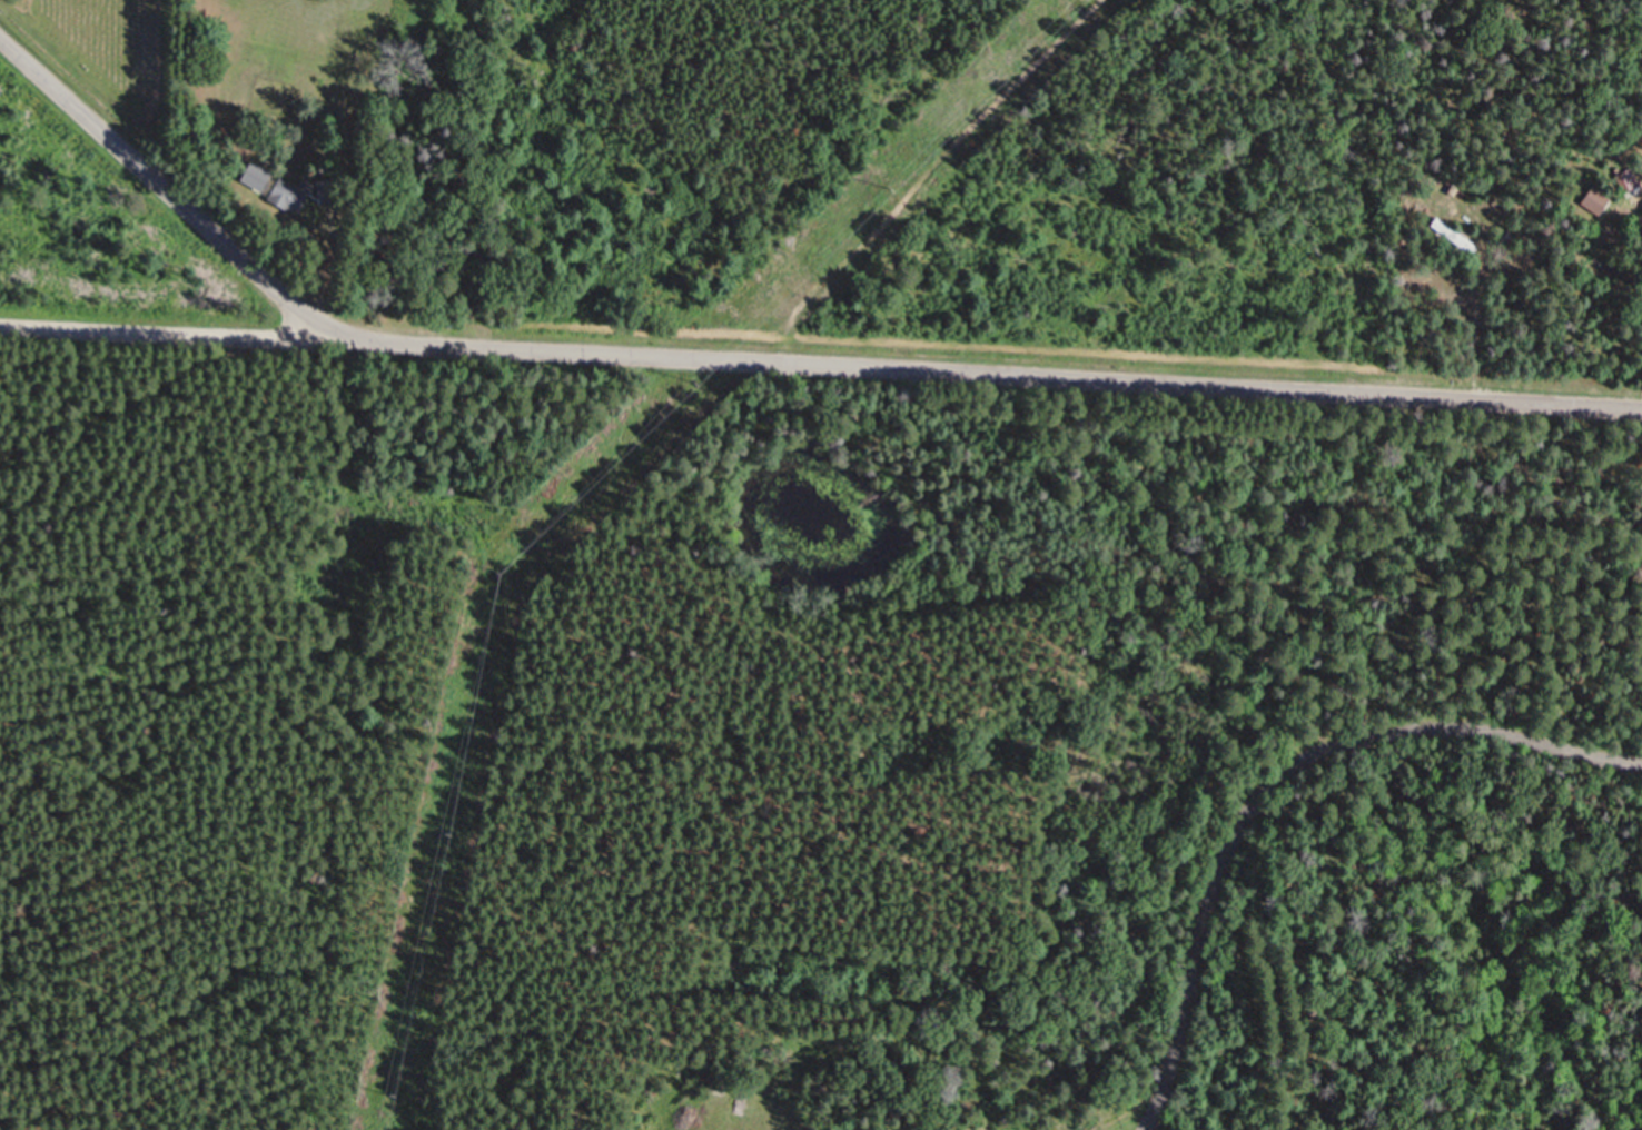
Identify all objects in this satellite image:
road: (928, 172)
power tower: (896, 186)
building: (293, 194)
building: (1455, 236)
road: (165, 330)
road: (764, 359)
power tower: (698, 380)
power tower: (515, 567)
park: (1091, 773)
road: (1278, 784)
power tower: (453, 832)
power tower: (404, 1097)

